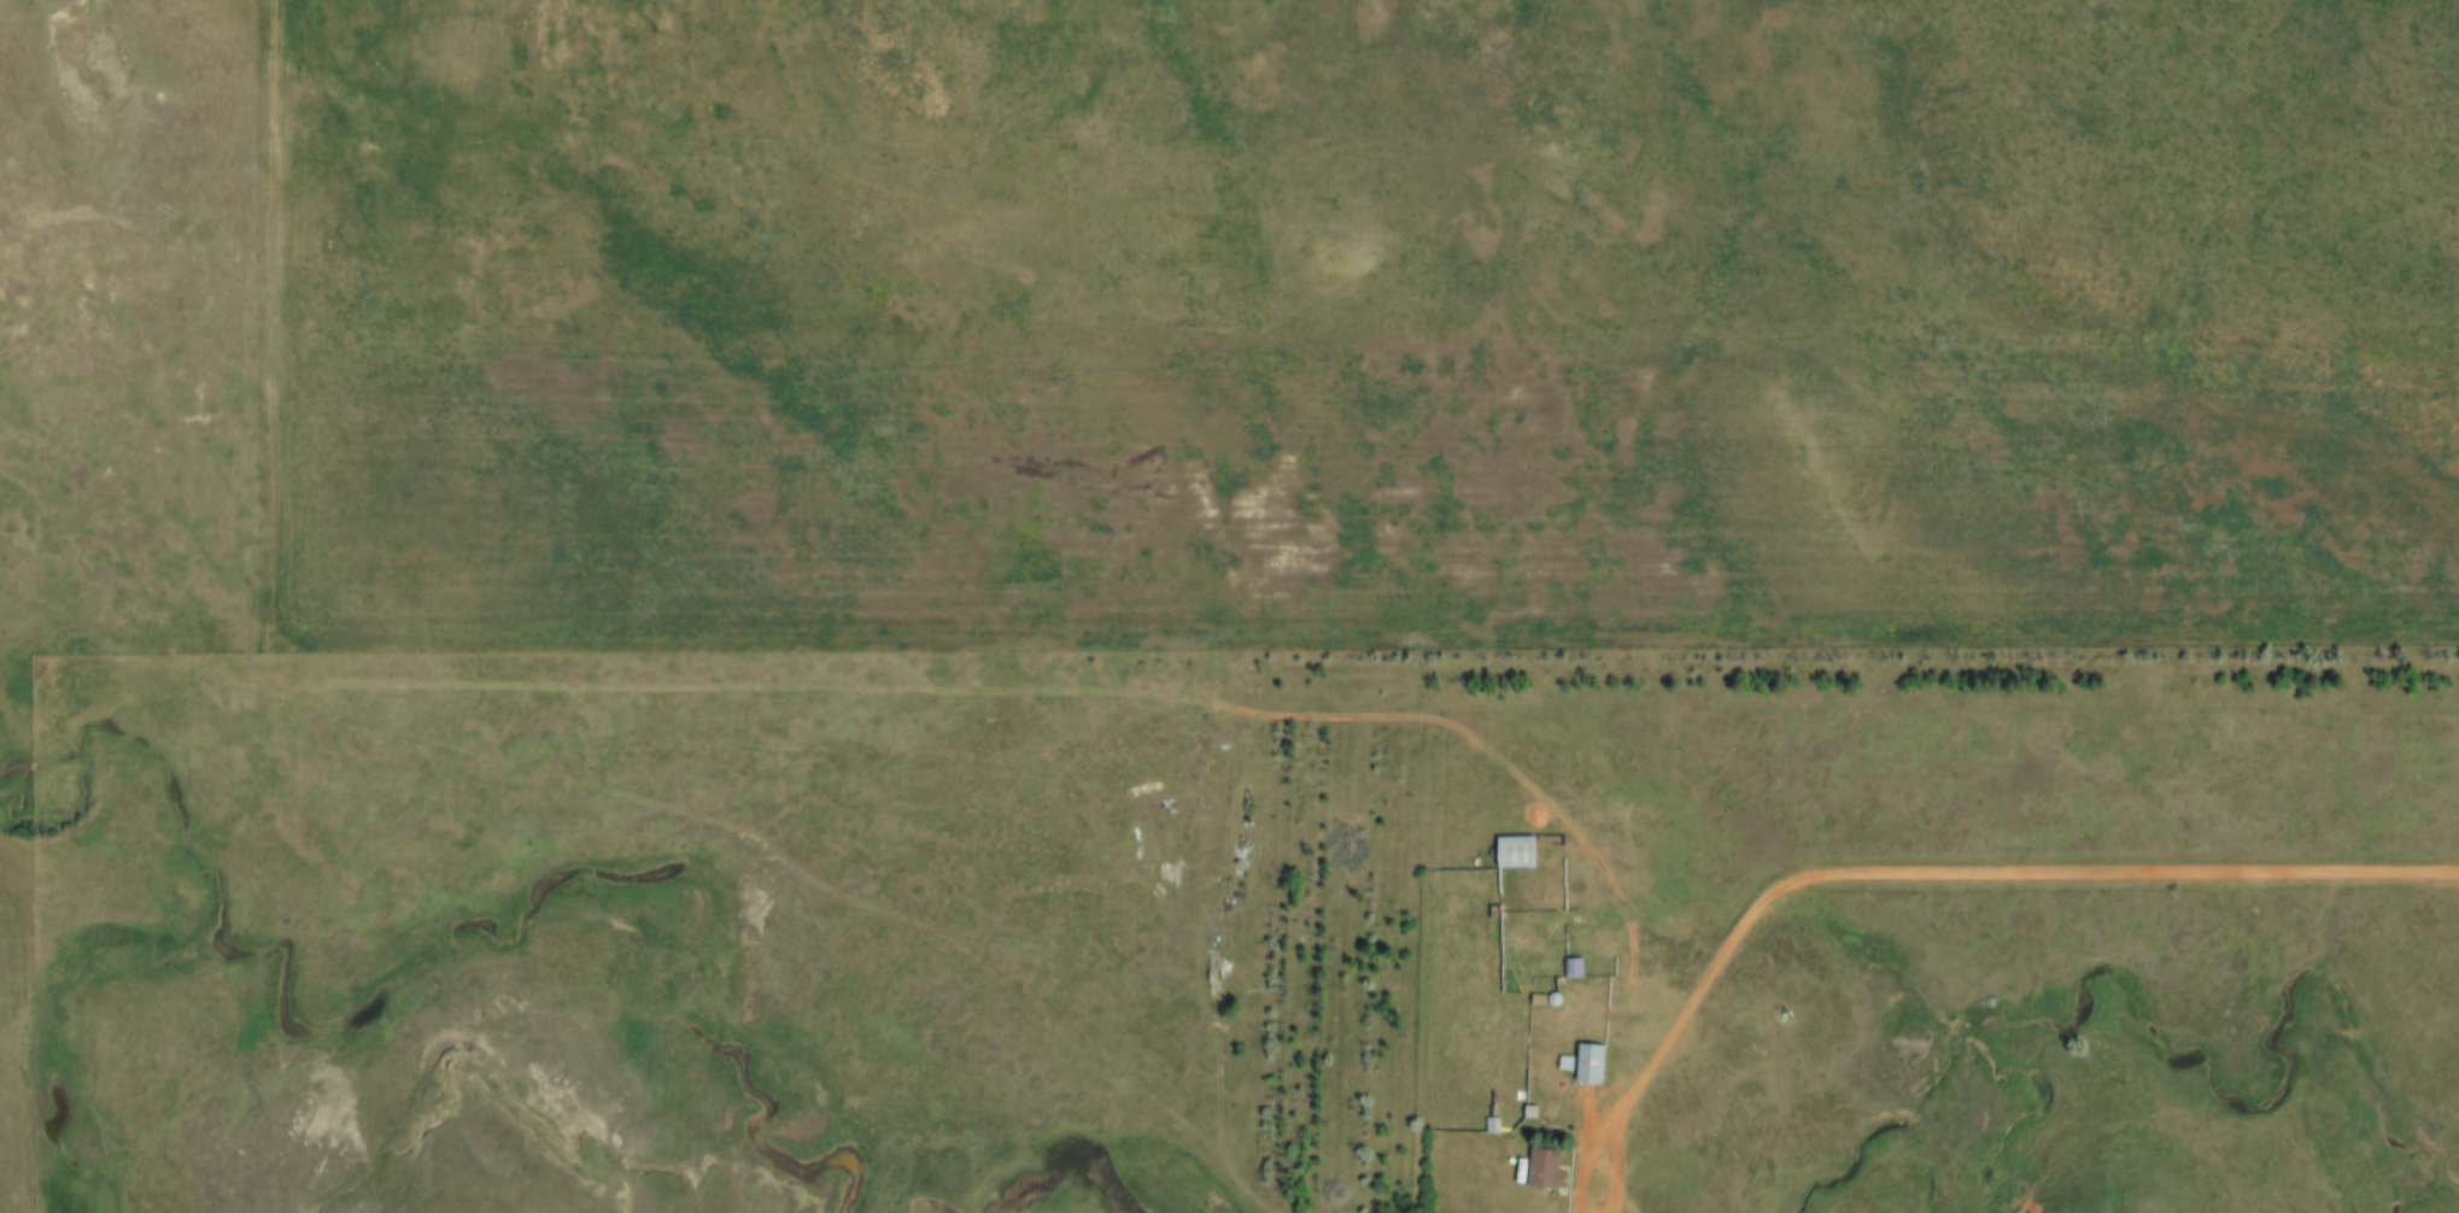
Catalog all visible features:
road: (273, 327)
building: (1175, 843)
building: (1512, 852)
road: (1942, 875)
building: (1574, 968)
building: (1588, 1063)
building: (1542, 1168)
road: (1627, 1201)

